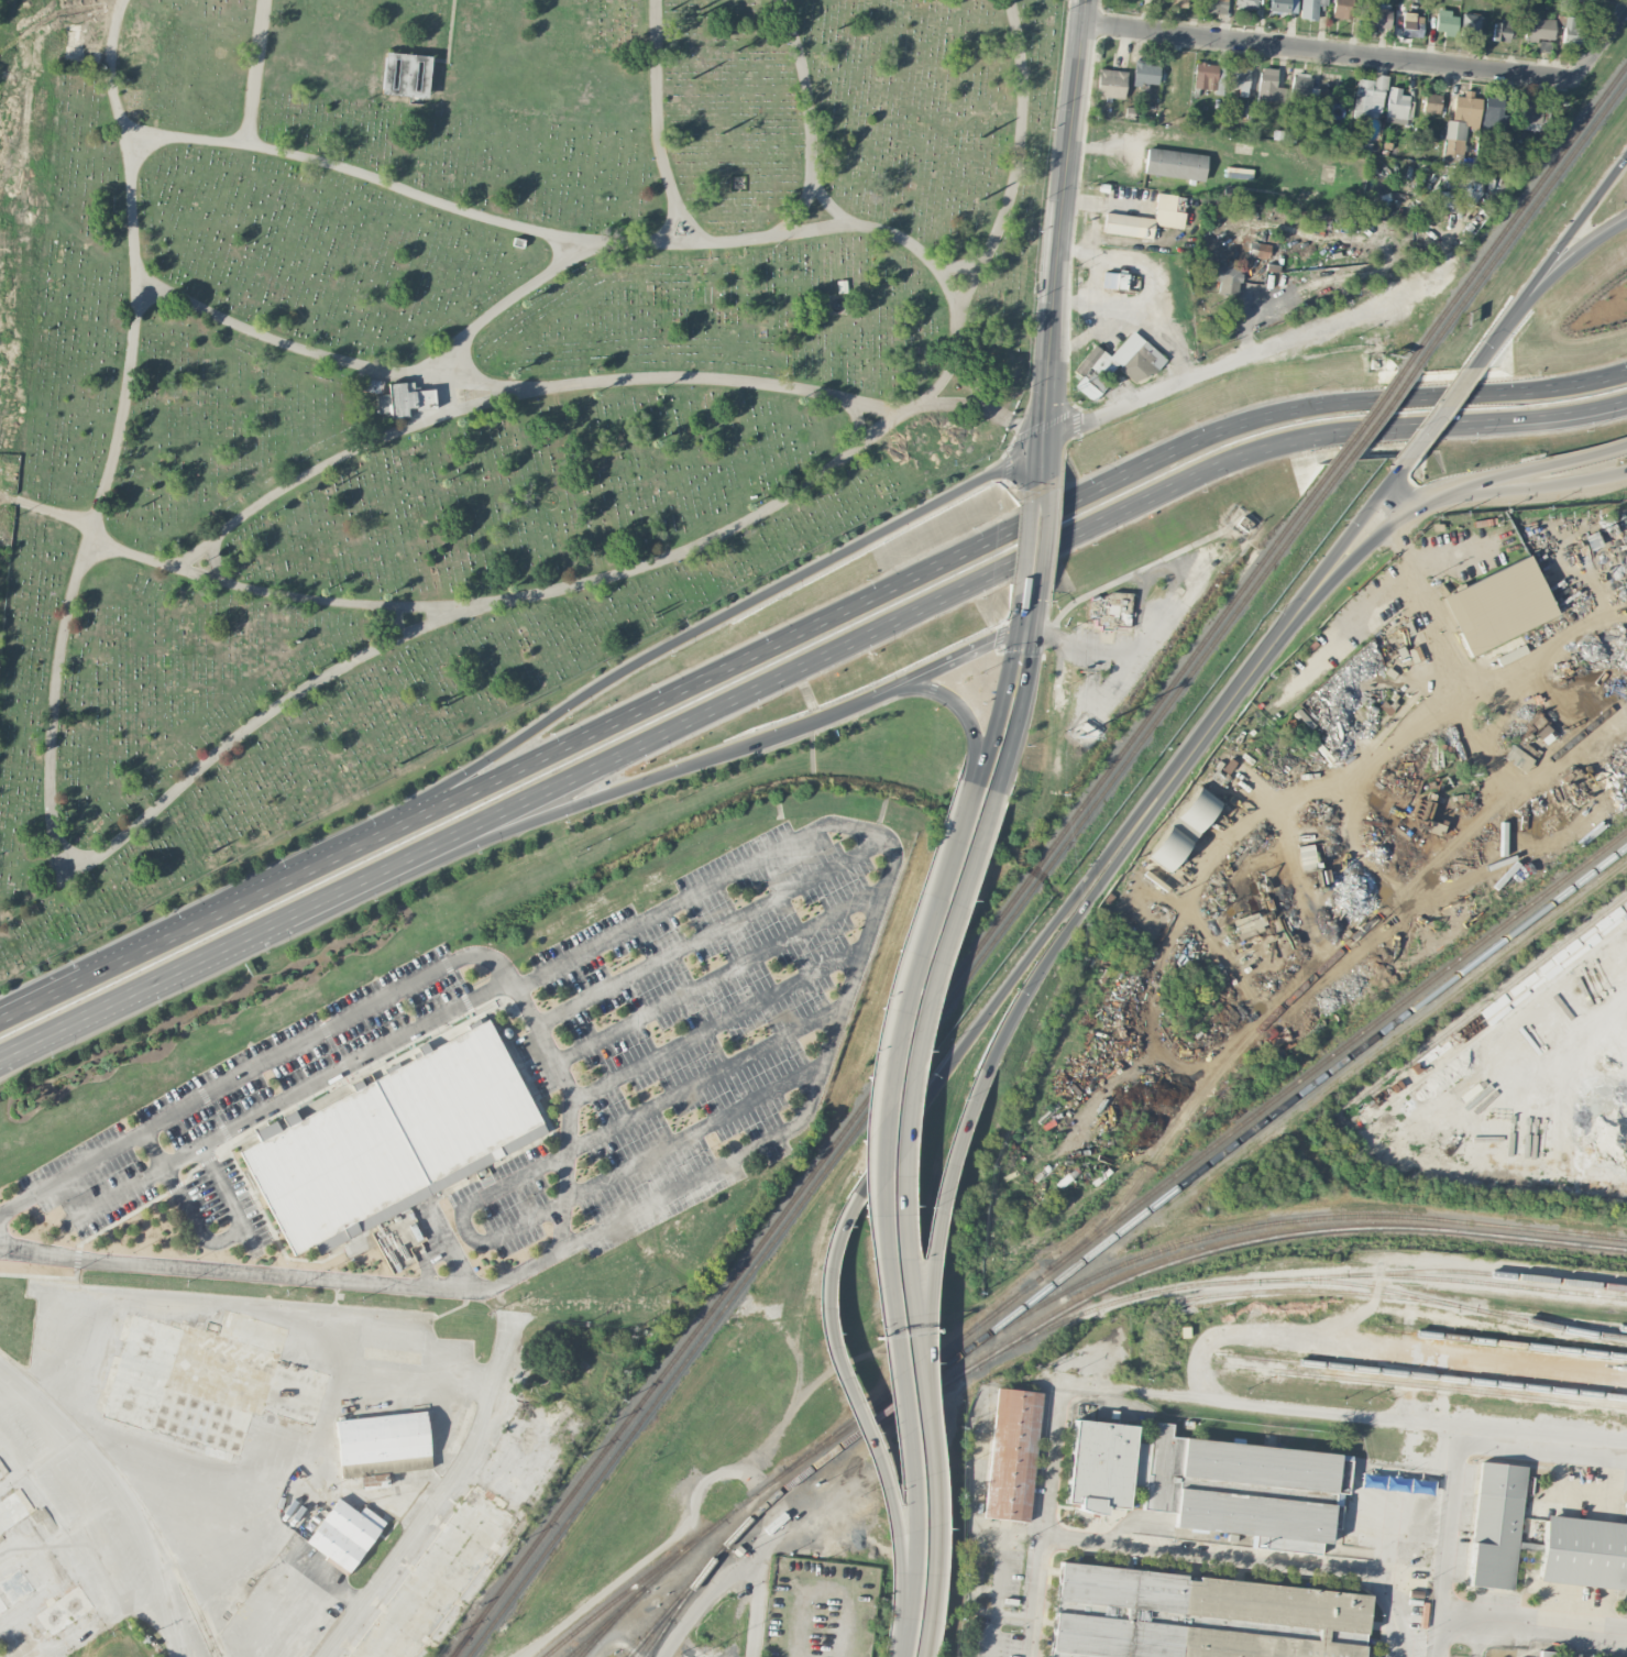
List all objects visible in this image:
building: (1178, 3)
building: (1246, 4)
building: (1214, 6)
building: (1283, 8)
building: (1310, 8)
building: (1342, 9)
building: (1377, 15)
building: (1445, 22)
building: (1410, 24)
building: (1469, 26)
building: (1538, 29)
building: (1500, 31)
building: (1572, 31)
road: (1604, 41)
building: (1544, 46)
road: (1333, 51)
building: (406, 74)
building: (1145, 74)
building: (1208, 77)
building: (1241, 78)
building: (1111, 84)
building: (1269, 86)
building: (1300, 90)
building: (1368, 97)
building: (1431, 102)
building: (1396, 103)
building: (1492, 111)
building: (1533, 118)
building: (1460, 125)
building: (1175, 164)
building: (1469, 186)
railway: (1515, 212)
building: (1147, 218)
road: (1059, 220)
railway: (1520, 221)
road: (1565, 240)
building: (1265, 254)
road: (1560, 266)
building: (1225, 278)
building: (1117, 281)
road: (1487, 345)
road: (1242, 358)
building: (1115, 364)
park: (462, 373)
building: (364, 384)
building: (404, 399)
railway: (1367, 413)
railway: (1378, 414)
road: (1436, 416)
traffic signals: (1045, 441)
road: (1586, 454)
road: (1229, 461)
road: (1048, 465)
road: (1036, 469)
road: (1498, 479)
road: (1398, 496)
road: (1394, 517)
road: (1021, 525)
road: (1044, 531)
road: (1025, 539)
road: (1315, 580)
traffic signals: (1019, 605)
building: (1498, 605)
road: (739, 607)
building: (1110, 610)
road: (1025, 633)
traffic signals: (1045, 637)
traffic signals: (993, 639)
road: (1084, 646)
traffic signals: (1032, 655)
road: (954, 658)
road: (1125, 666)
road: (1471, 676)
road: (1026, 682)
road: (1007, 683)
road: (961, 711)
road: (1205, 727)
building: (1540, 729)
road: (637, 754)
building: (1516, 758)
road: (651, 780)
building: (1183, 828)
road: (1132, 834)
road: (367, 838)
road: (876, 912)
building: (1249, 925)
road: (712, 929)
road: (184, 930)
road: (1032, 958)
railway: (1327, 959)
road: (204, 964)
road: (719, 978)
road: (41, 998)
road: (381, 1000)
railway: (1485, 1005)
road: (716, 1024)
railway: (900, 1047)
railway: (905, 1060)
road: (338, 1072)
road: (706, 1075)
railway: (1297, 1093)
road: (904, 1098)
road: (872, 1123)
road: (693, 1135)
building: (394, 1138)
road: (956, 1148)
road: (136, 1182)
railway: (1125, 1211)
road: (465, 1216)
road: (229, 1237)
railway: (1187, 1242)
road: (455, 1250)
railway: (1201, 1251)
railway: (1492, 1273)
road: (284, 1274)
railway: (1354, 1283)
railway: (1492, 1283)
railway: (1166, 1288)
road: (186, 1297)
railway: (1403, 1297)
railway: (1561, 1319)
road: (828, 1320)
railway: (1599, 1334)
railway: (1505, 1341)
railway: (1422, 1374)
building: (209, 1380)
railway: (1427, 1385)
road: (1338, 1411)
railway: (866, 1424)
road: (317, 1441)
building: (382, 1445)
road: (925, 1446)
building: (1012, 1455)
parking lot: (1048, 1456)
road: (1625, 1460)
road: (1515, 1461)
building: (1104, 1464)
road: (1051, 1466)
railway: (131, 1488)
road: (451, 1489)
building: (1246, 1489)
road: (119, 1492)
road: (1044, 1502)
building: (14, 1510)
road: (1059, 1519)
road: (1133, 1519)
parking lot: (1460, 1519)
building: (1497, 1525)
building: (344, 1534)
road: (1447, 1539)
railway: (719, 1549)
parking lot: (1271, 1551)
building: (1584, 1551)
road: (1252, 1560)
road: (1194, 1563)
road: (933, 1566)
road: (1527, 1566)
road: (913, 1568)
road: (1466, 1571)
road: (898, 1572)
road: (1532, 1576)
railway: (645, 1577)
building: (439, 1578)
building: (15, 1585)
road: (1036, 1595)
road: (1487, 1599)
road: (307, 1600)
road: (762, 1601)
parking lot: (1495, 1601)
road: (994, 1604)
building: (2, 1605)
parking lot: (1004, 1605)
building: (64, 1611)
railway: (673, 1612)
road: (1014, 1615)
road: (1533, 1615)
building: (1198, 1616)
road: (106, 1621)
railway: (598, 1628)
railway: (604, 1629)
parking lot: (1405, 1631)
road: (1480, 1633)
parking lot: (1558, 1634)
park: (121, 1643)
railway: (644, 1644)
railway: (644, 1644)
railway: (459, 1645)
railway: (460, 1645)
building: (1547, 1653)
building: (0, 1656)

